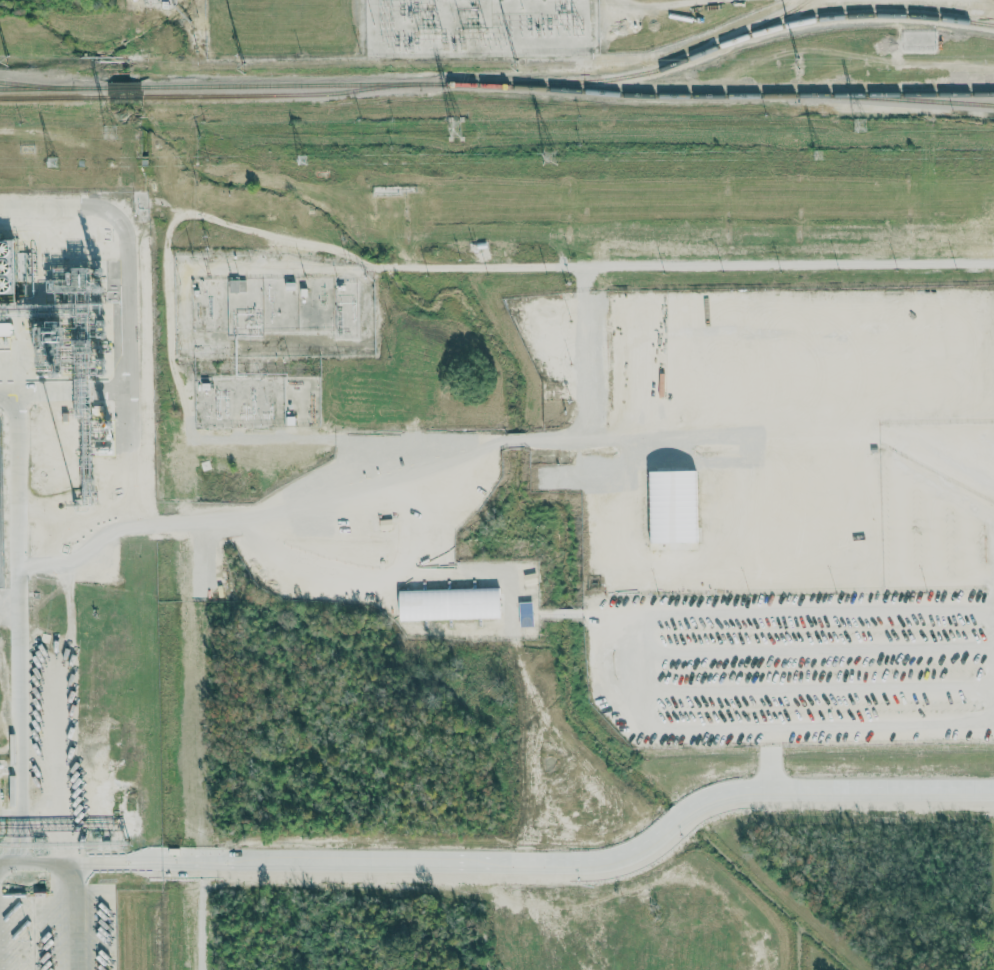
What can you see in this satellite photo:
railway: (852, 15)
power substation: (480, 27)
power tower: (796, 63)
power tower: (7, 66)
power tower: (517, 66)
power tower: (244, 73)
railway: (630, 75)
railway: (39, 84)
railway: (289, 85)
railway: (53, 87)
railway: (125, 87)
railway: (281, 94)
railway: (715, 94)
railway: (125, 95)
railway: (54, 96)
railway: (896, 97)
power tower: (861, 124)
power tower: (456, 128)
power tower: (110, 130)
power tower: (817, 156)
power tower: (549, 157)
power tower: (302, 159)
power tower: (52, 161)
road: (694, 264)
building: (5, 329)
building: (673, 507)
road: (988, 554)
building: (450, 604)
road: (823, 609)
road: (648, 671)
road: (992, 717)
road: (821, 724)
road: (507, 862)
road: (73, 916)

